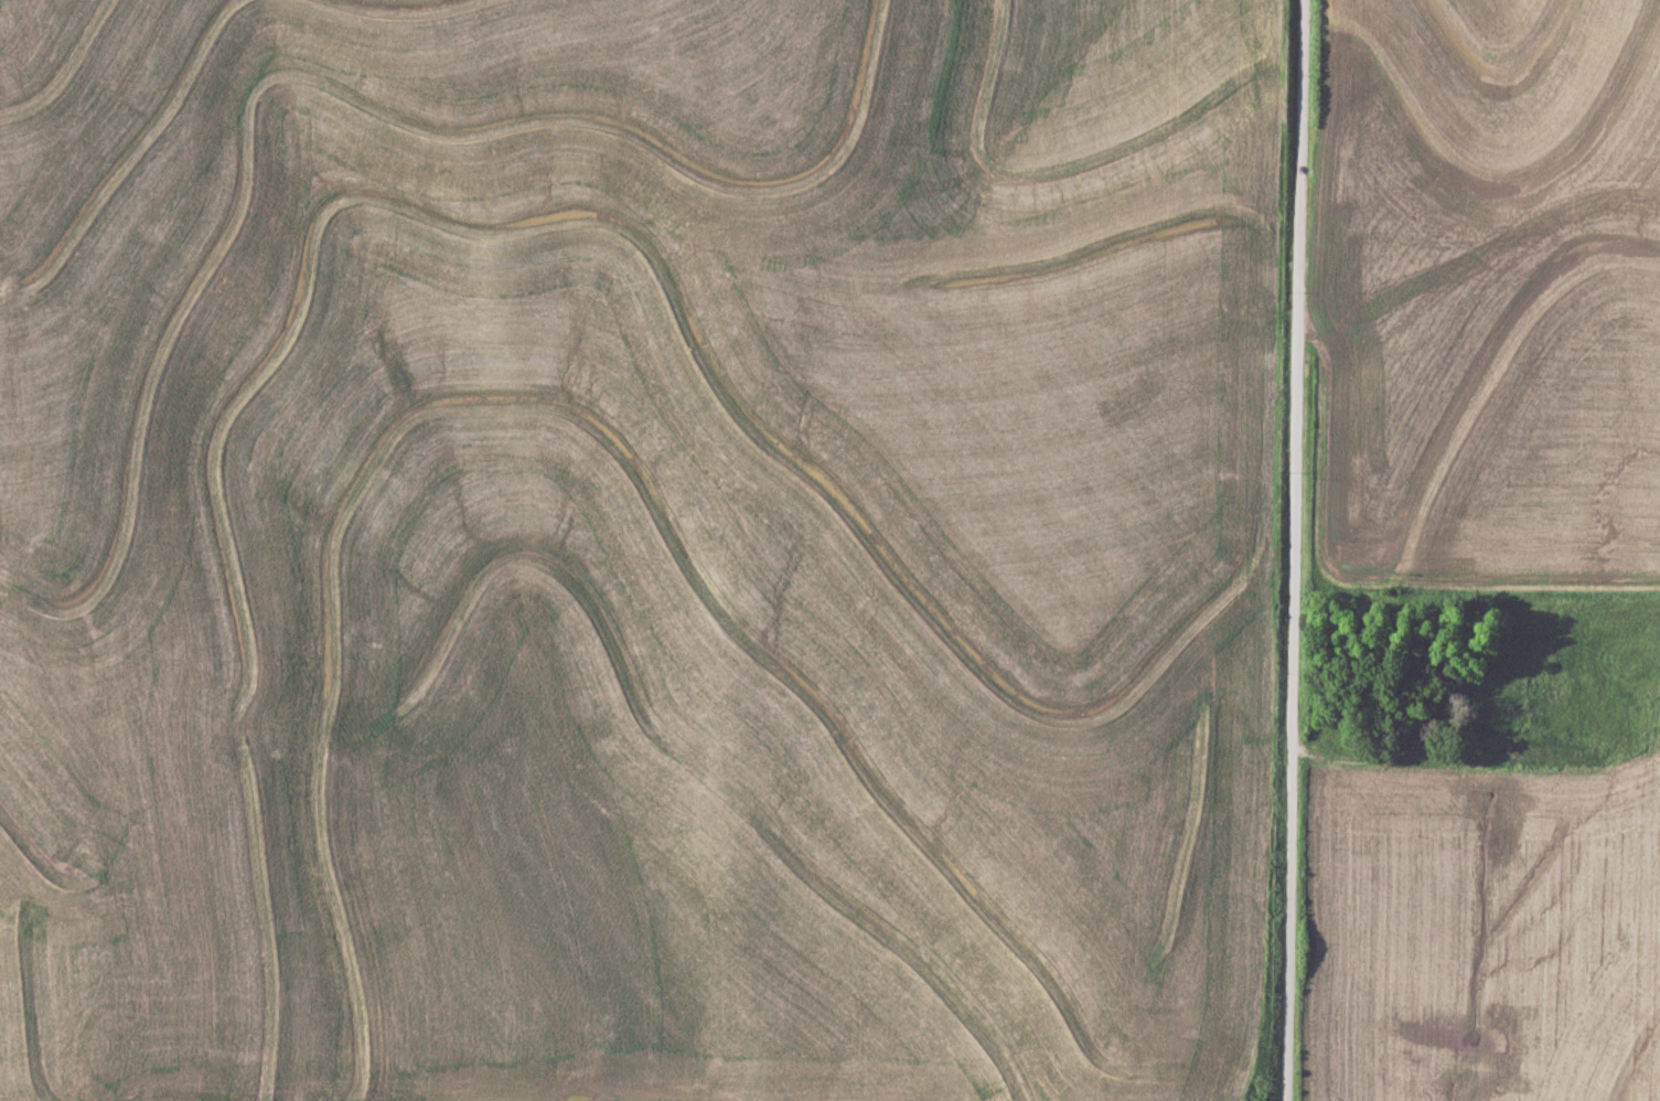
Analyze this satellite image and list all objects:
road: (1292, 550)
road: (1481, 672)

